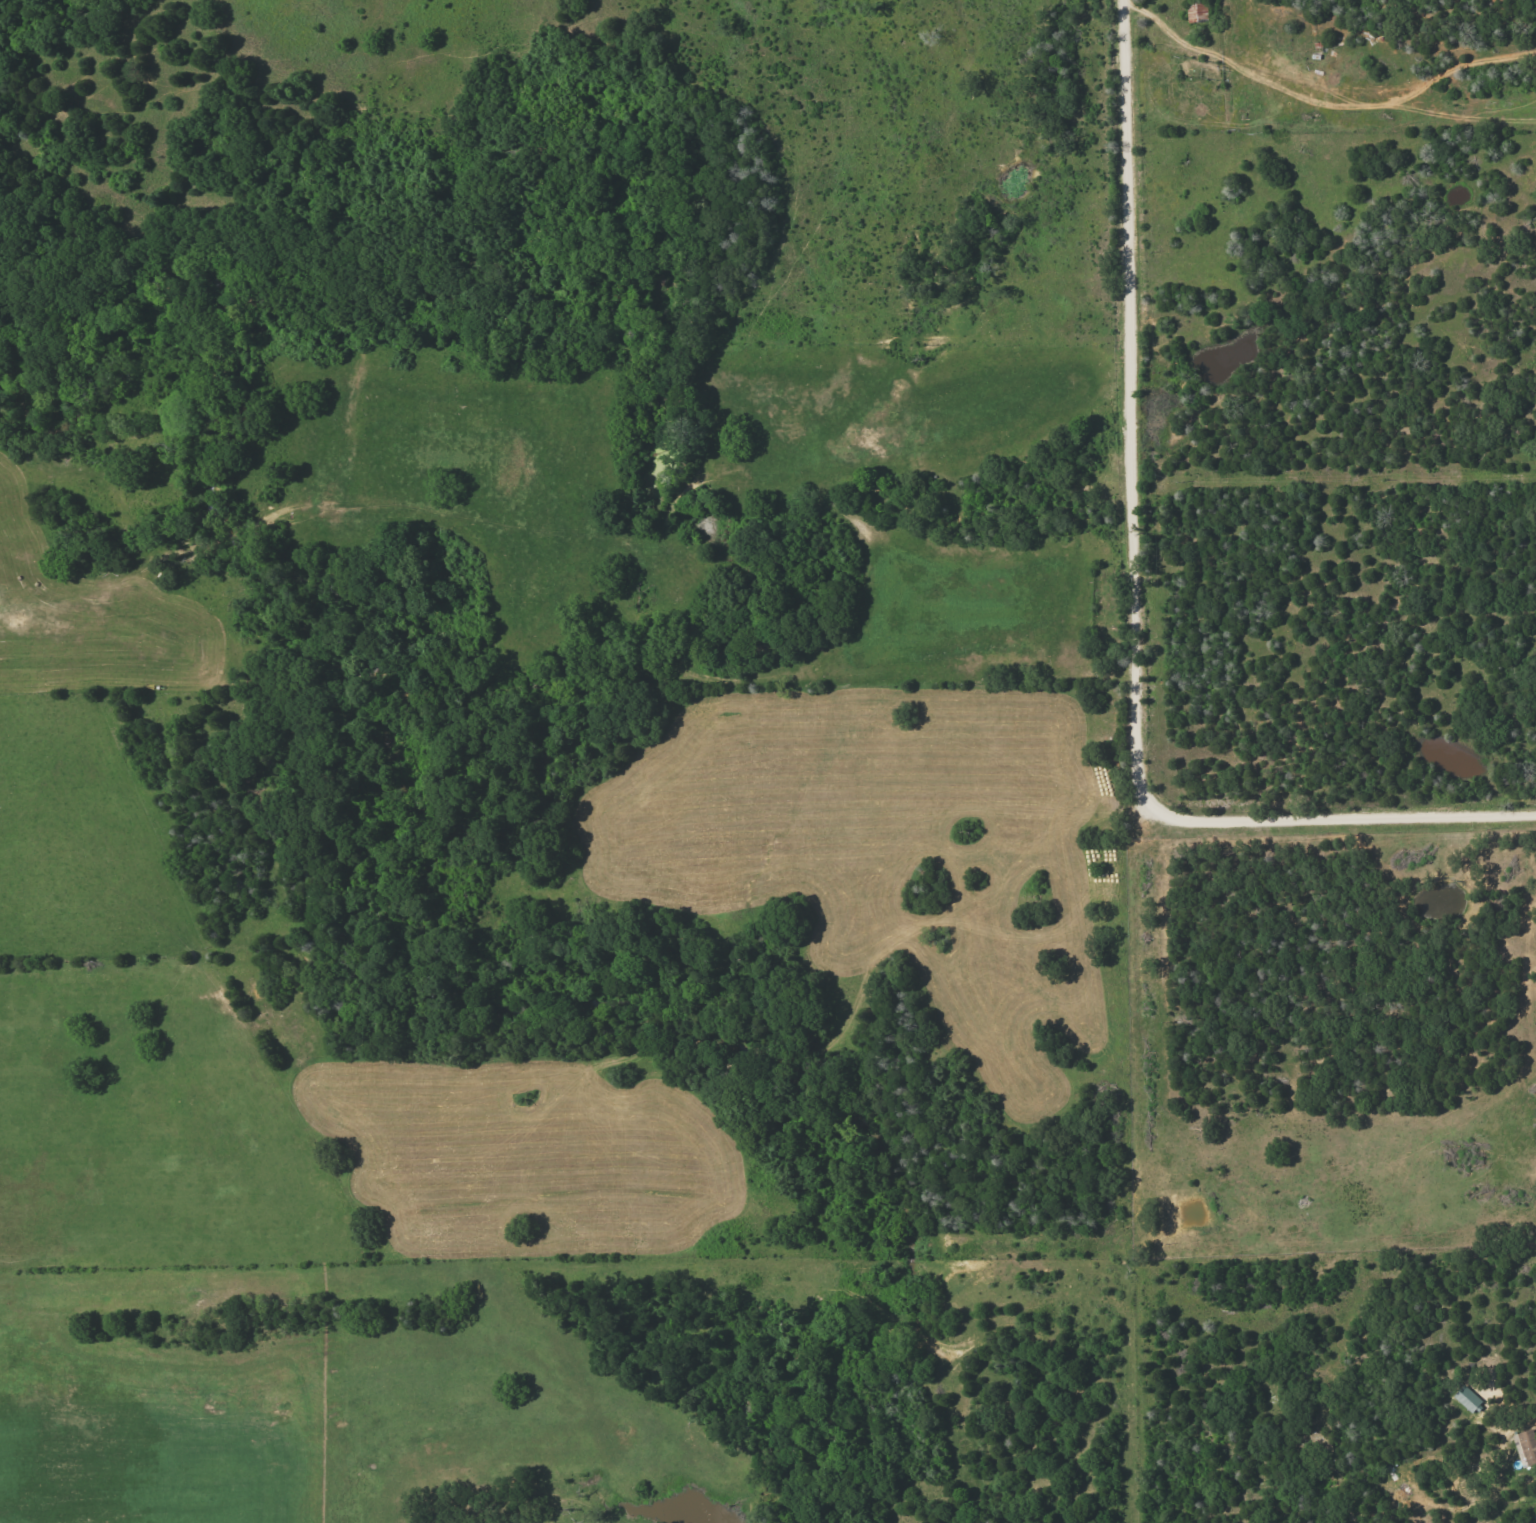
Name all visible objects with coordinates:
road: (1323, 107)
road: (1134, 600)
building: (1468, 1399)
building: (1527, 1445)

